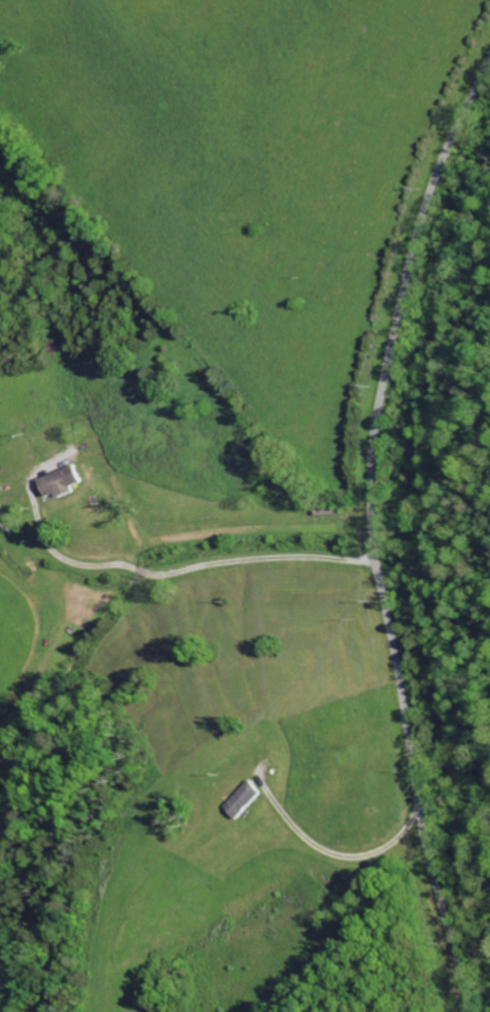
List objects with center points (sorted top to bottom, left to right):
building: (63, 482)
road: (368, 531)
road: (180, 569)
building: (247, 799)
road: (342, 857)

